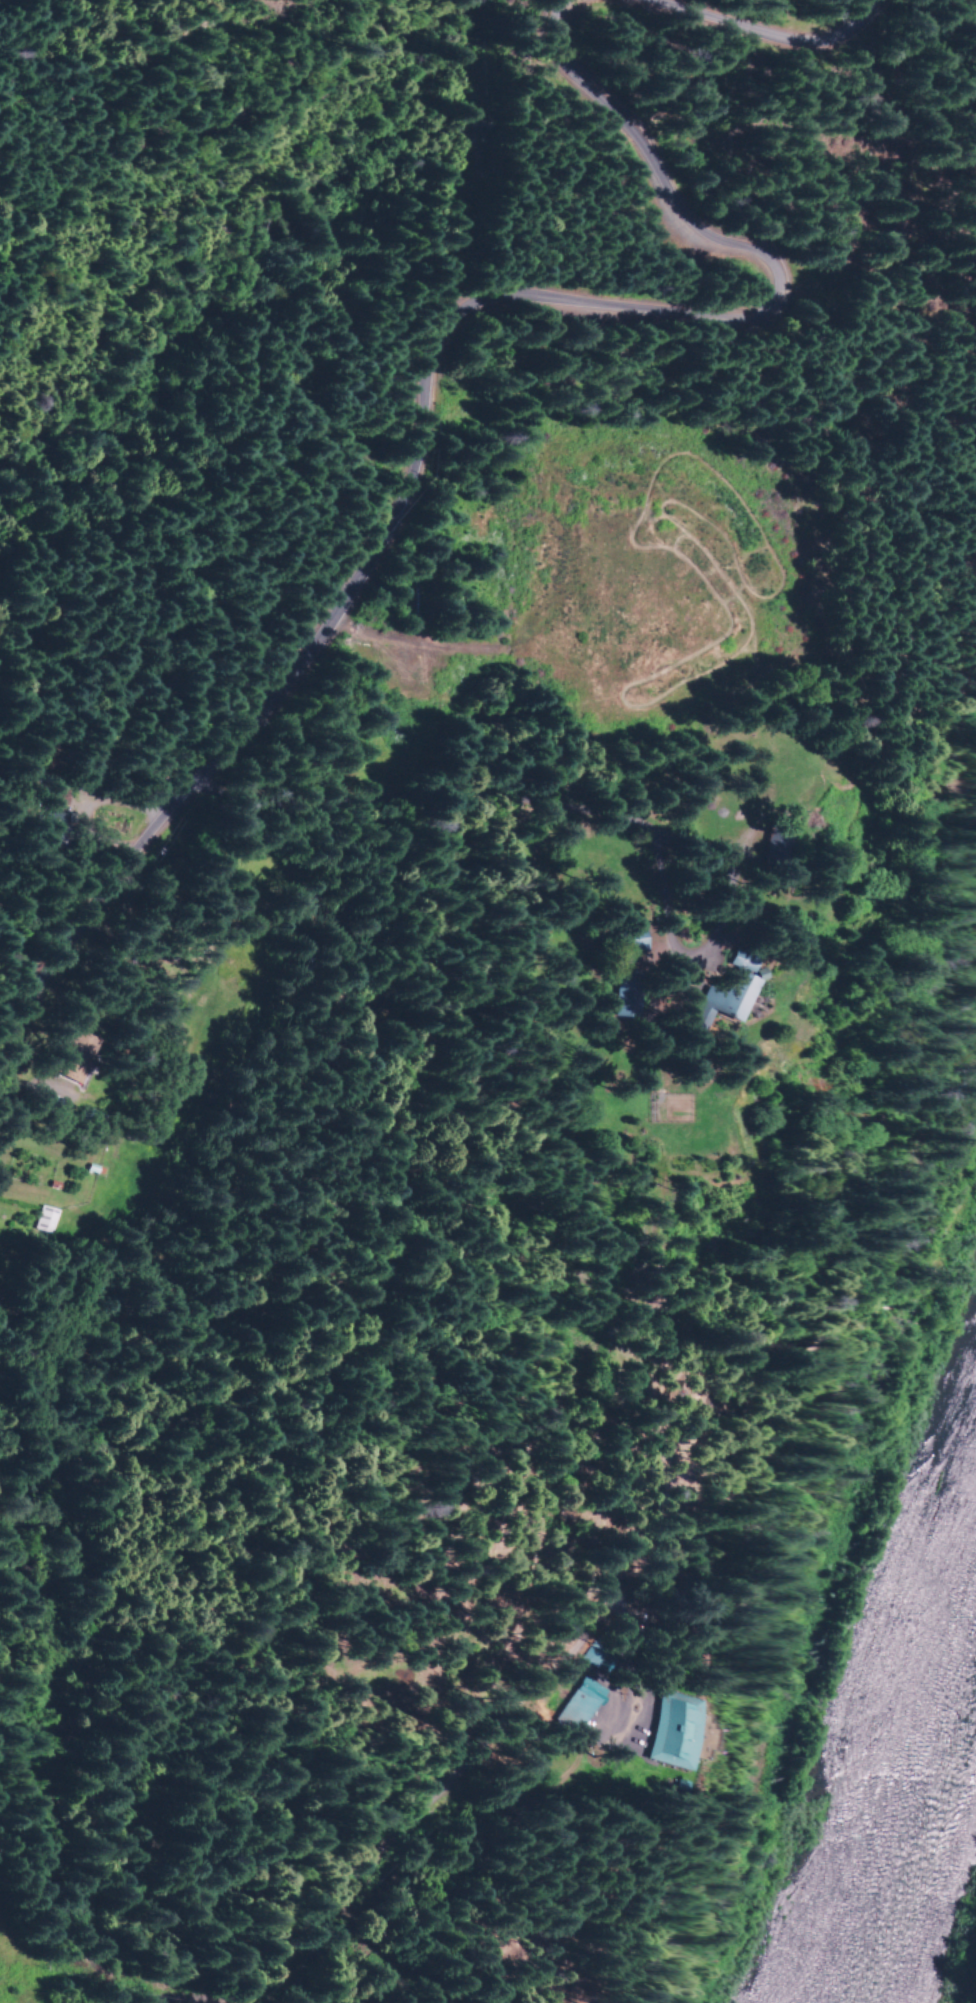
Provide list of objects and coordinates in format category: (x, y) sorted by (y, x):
road: (763, 35)
road: (421, 377)
building: (626, 941)
building: (737, 962)
building: (726, 996)
building: (73, 1057)
building: (43, 1221)
road: (633, 1523)
building: (586, 1699)
building: (674, 1732)
river: (909, 1776)

